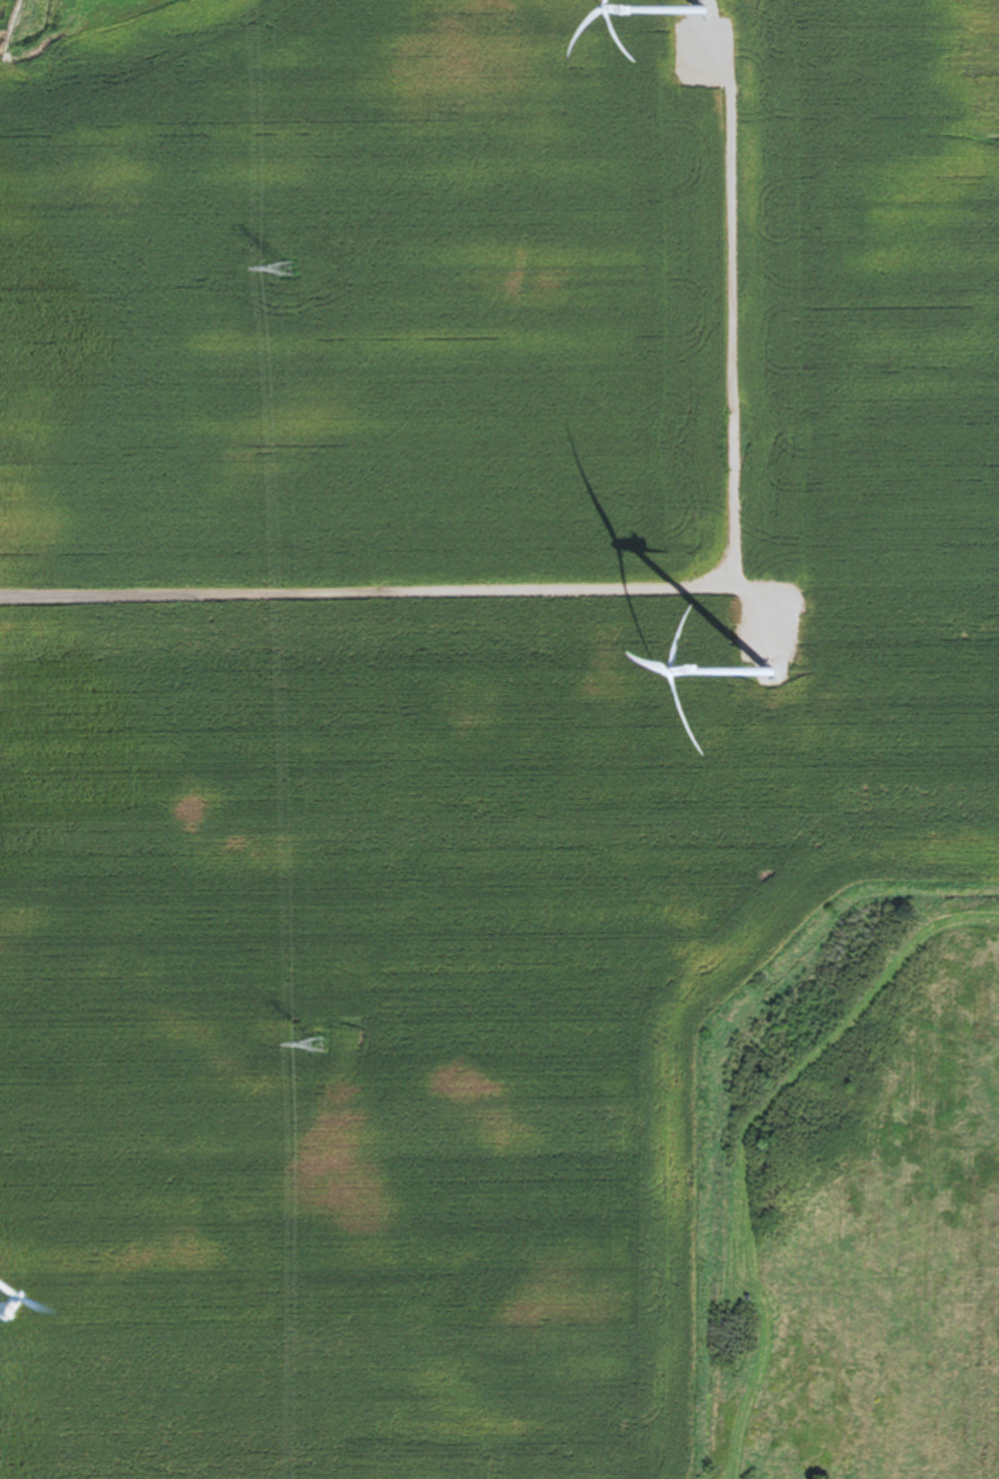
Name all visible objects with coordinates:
wind turbine: (700, 15)
power tower: (280, 272)
road: (658, 595)
wind turbine: (767, 676)
power tower: (315, 1049)

